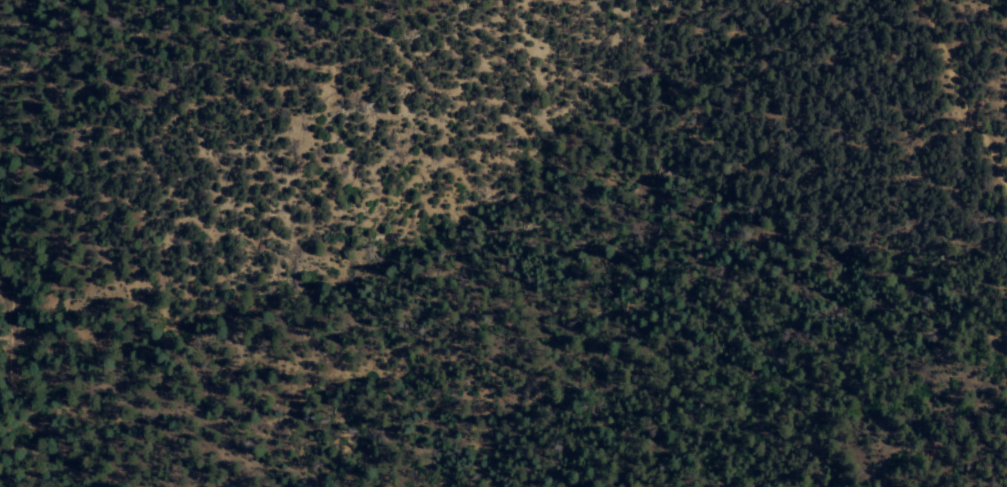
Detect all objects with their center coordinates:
road: (954, 121)
road: (627, 250)

